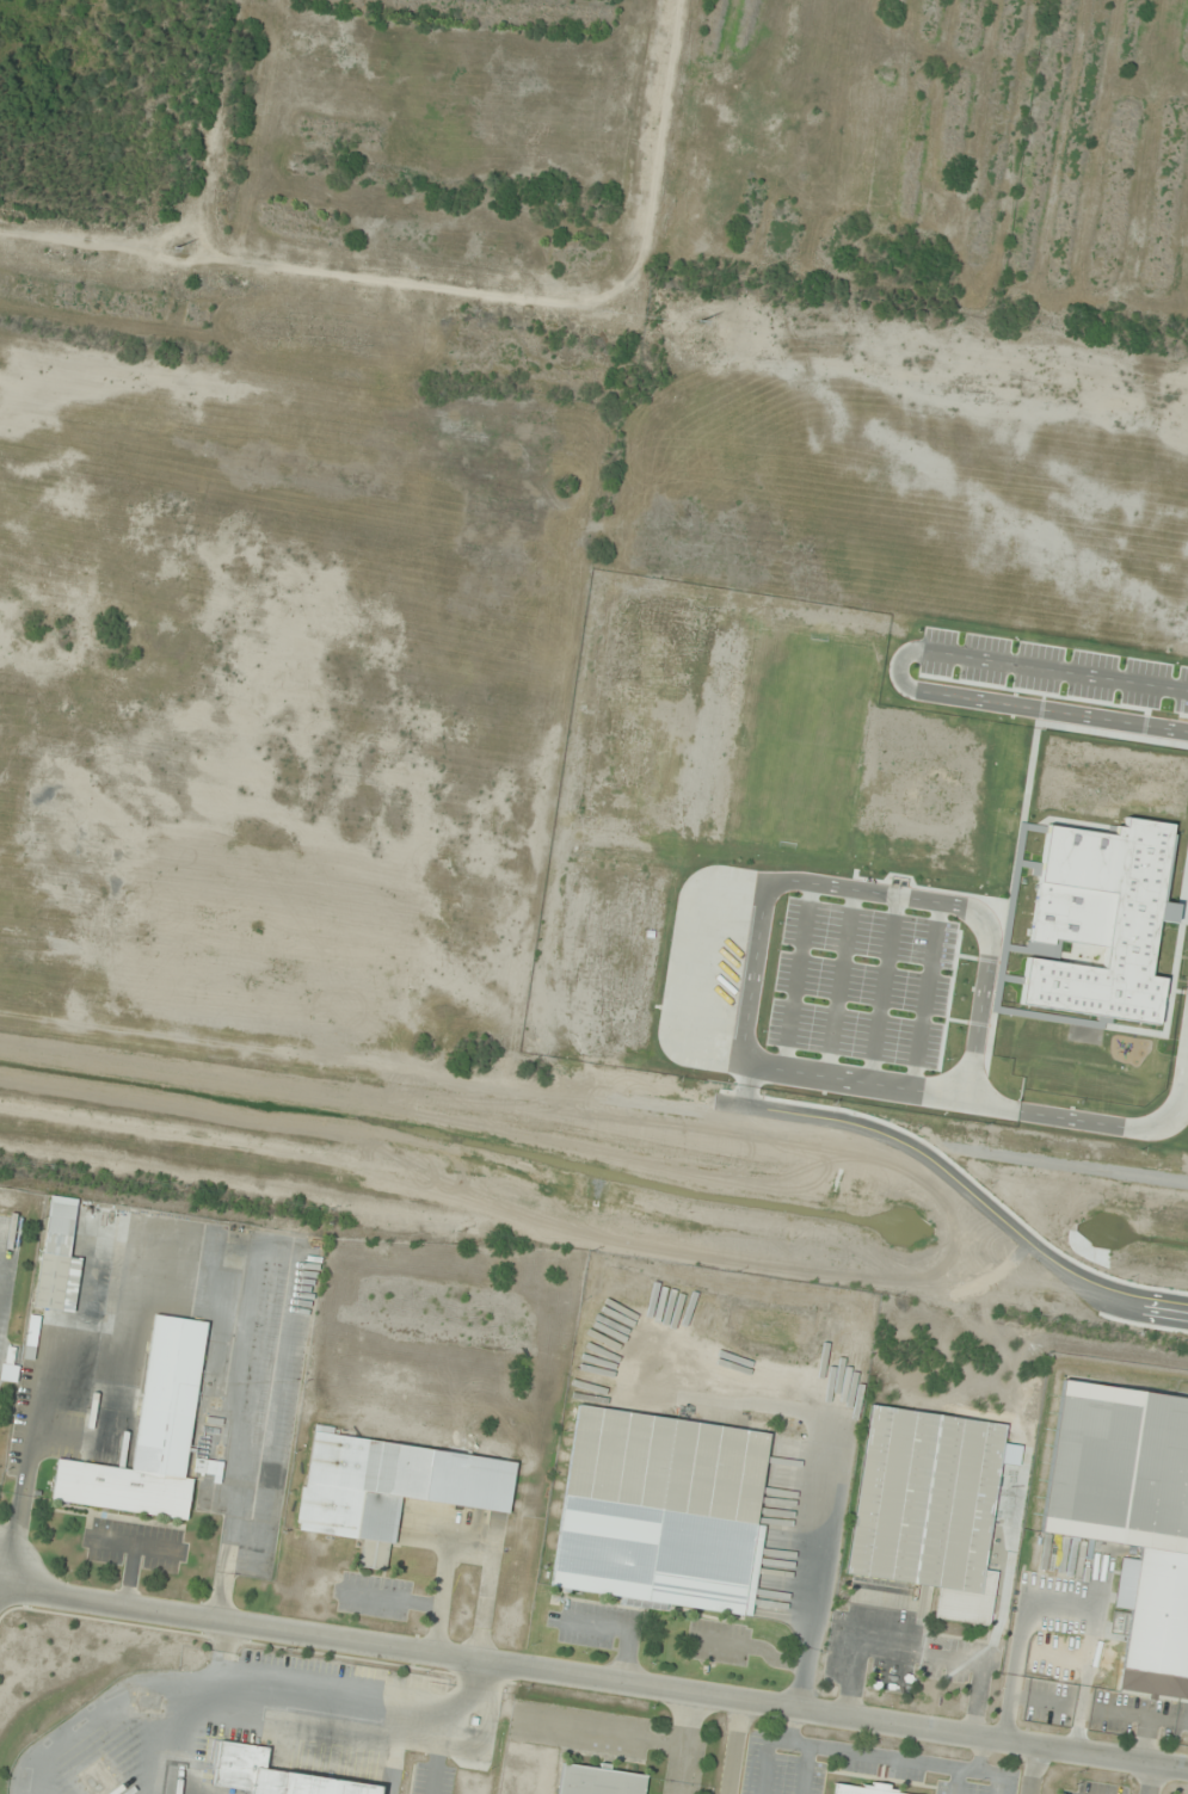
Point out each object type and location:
building: (56, 1260)
building: (148, 1434)
building: (389, 1484)
building: (925, 1508)
building: (659, 1510)
building: (1129, 1514)
road: (593, 1679)
building: (270, 1775)
building: (596, 1781)
building: (860, 1790)

